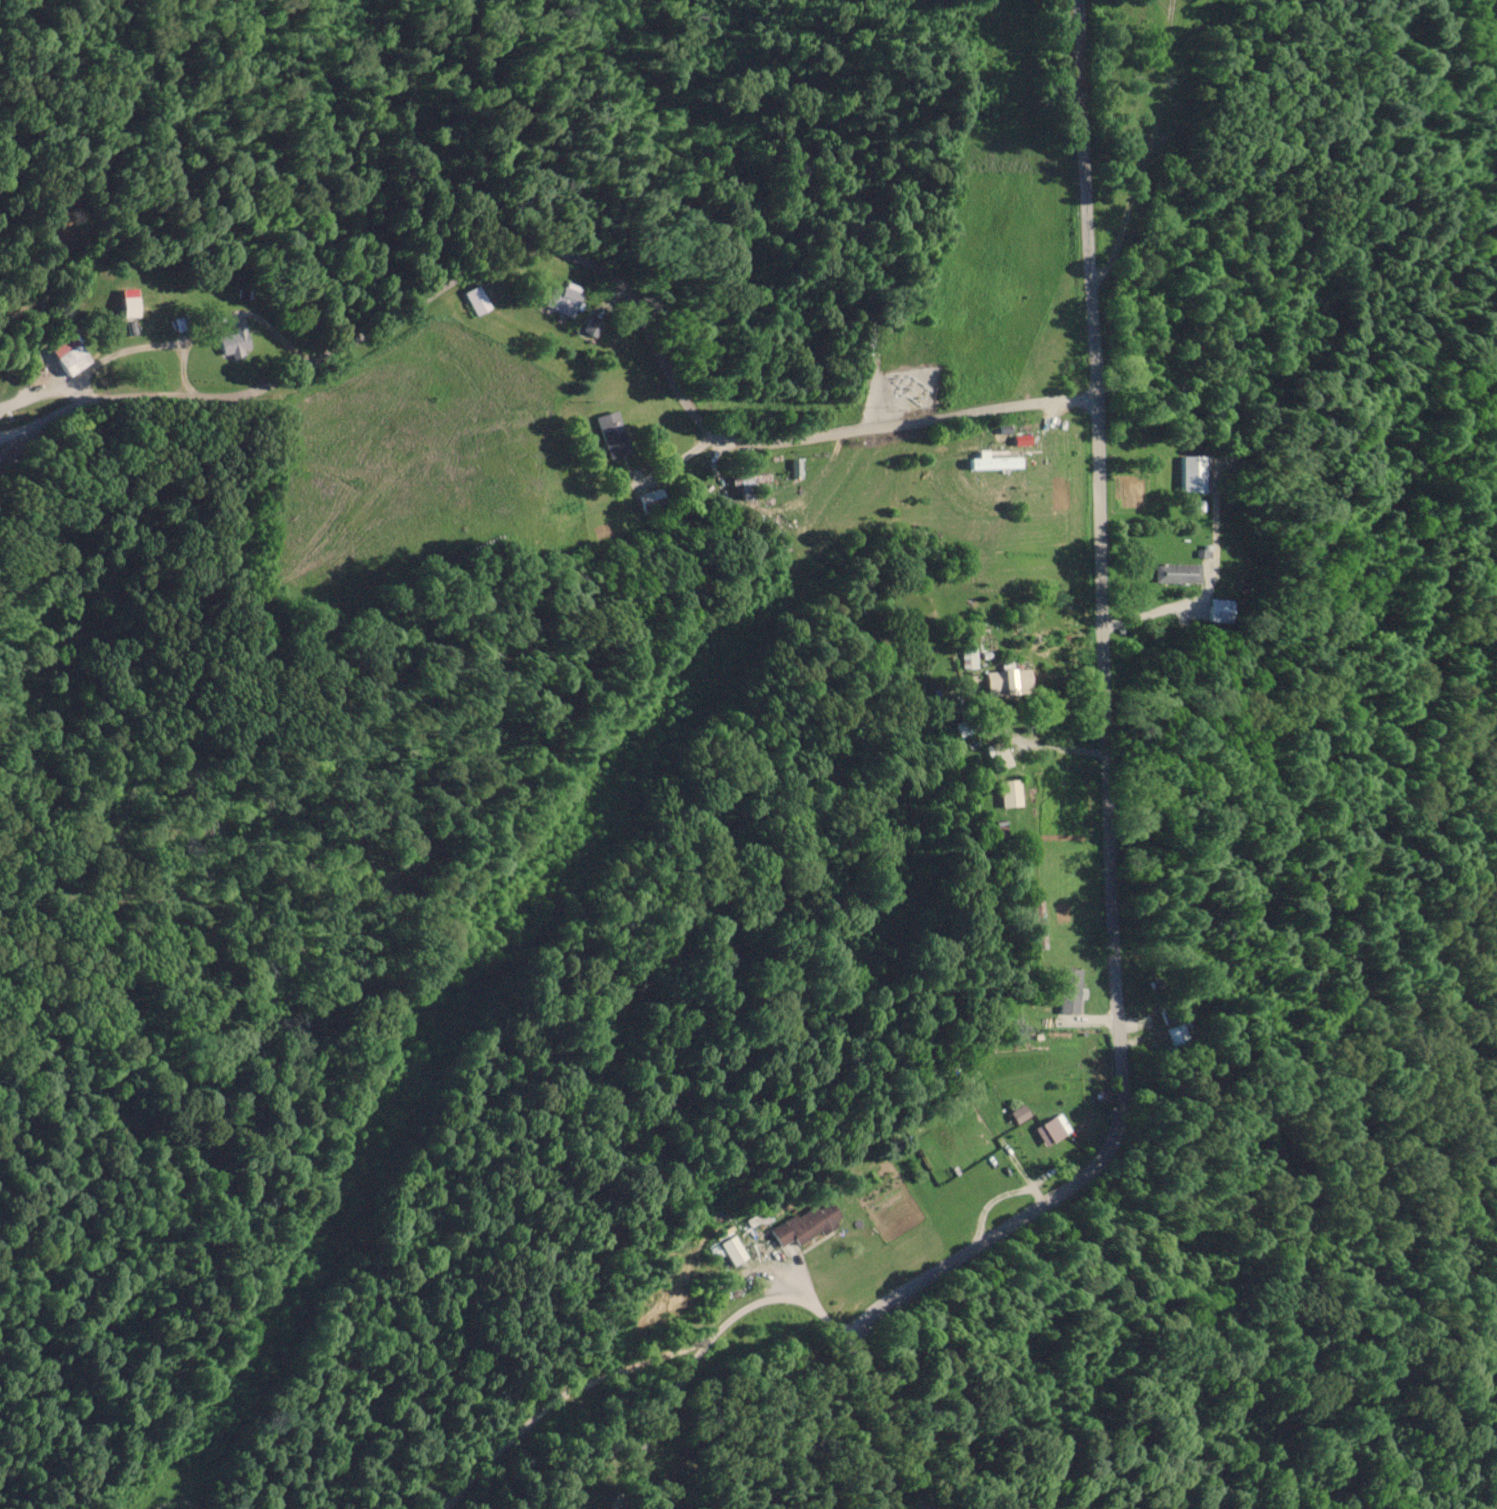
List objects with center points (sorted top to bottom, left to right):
road: (1147, 122)
road: (564, 252)
building: (564, 298)
building: (476, 299)
building: (235, 338)
building: (1063, 351)
building: (73, 360)
building: (613, 433)
building: (1190, 473)
building: (748, 485)
building: (651, 498)
building: (1177, 572)
building: (1218, 609)
building: (1008, 678)
building: (998, 755)
building: (1011, 792)
road: (1108, 830)
road: (919, 861)
building: (1176, 1035)
building: (1049, 1130)
building: (807, 1223)
building: (732, 1250)

